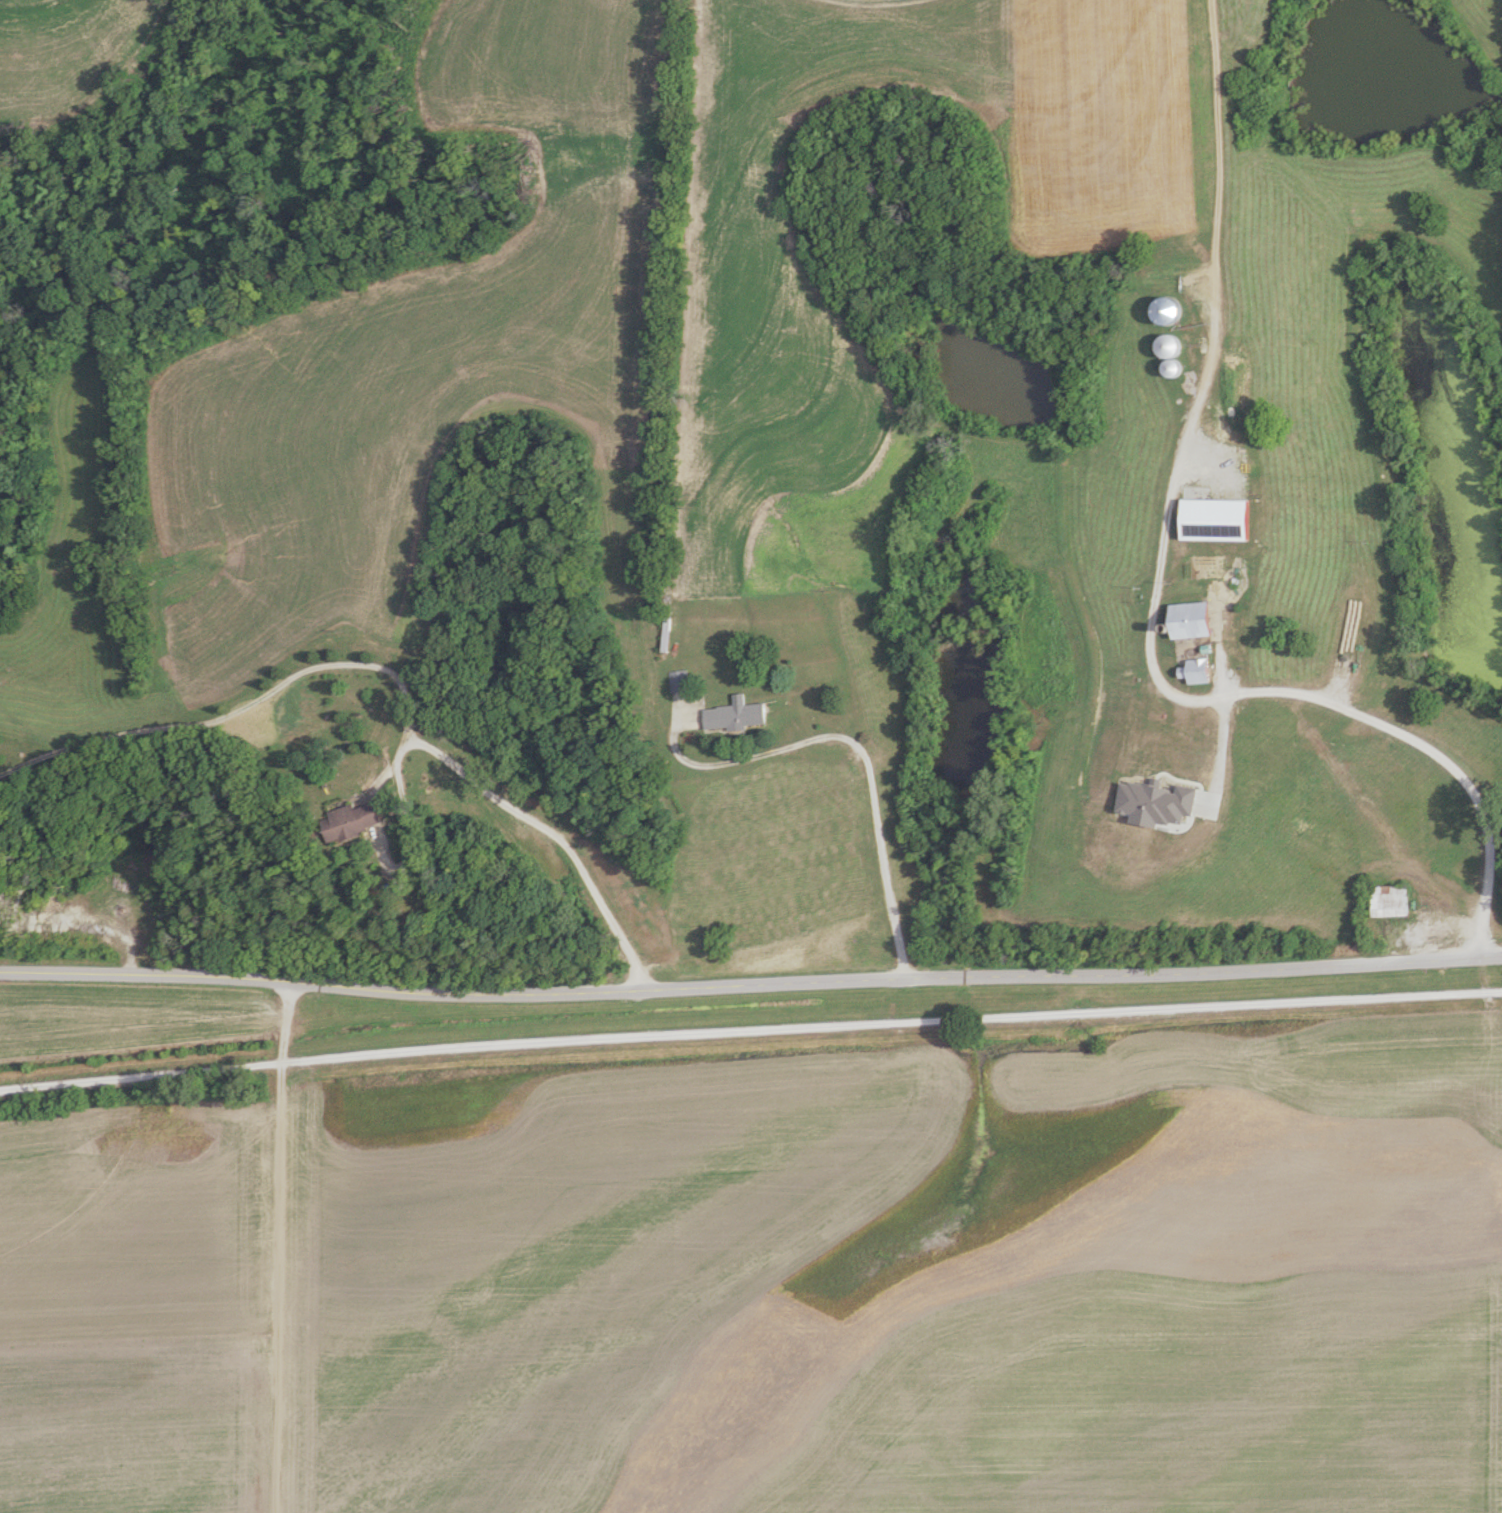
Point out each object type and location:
road: (1207, 349)
building: (1167, 353)
building: (1188, 621)
road: (1215, 644)
building: (1194, 672)
road: (393, 677)
building: (677, 681)
road: (1244, 688)
building: (733, 715)
building: (1156, 717)
building: (1198, 722)
road: (864, 757)
building: (1184, 770)
building: (350, 821)
road: (408, 822)
building: (1135, 843)
building: (1387, 901)
road: (750, 985)
road: (750, 1033)
road: (276, 1247)
crop: (157, 1321)

